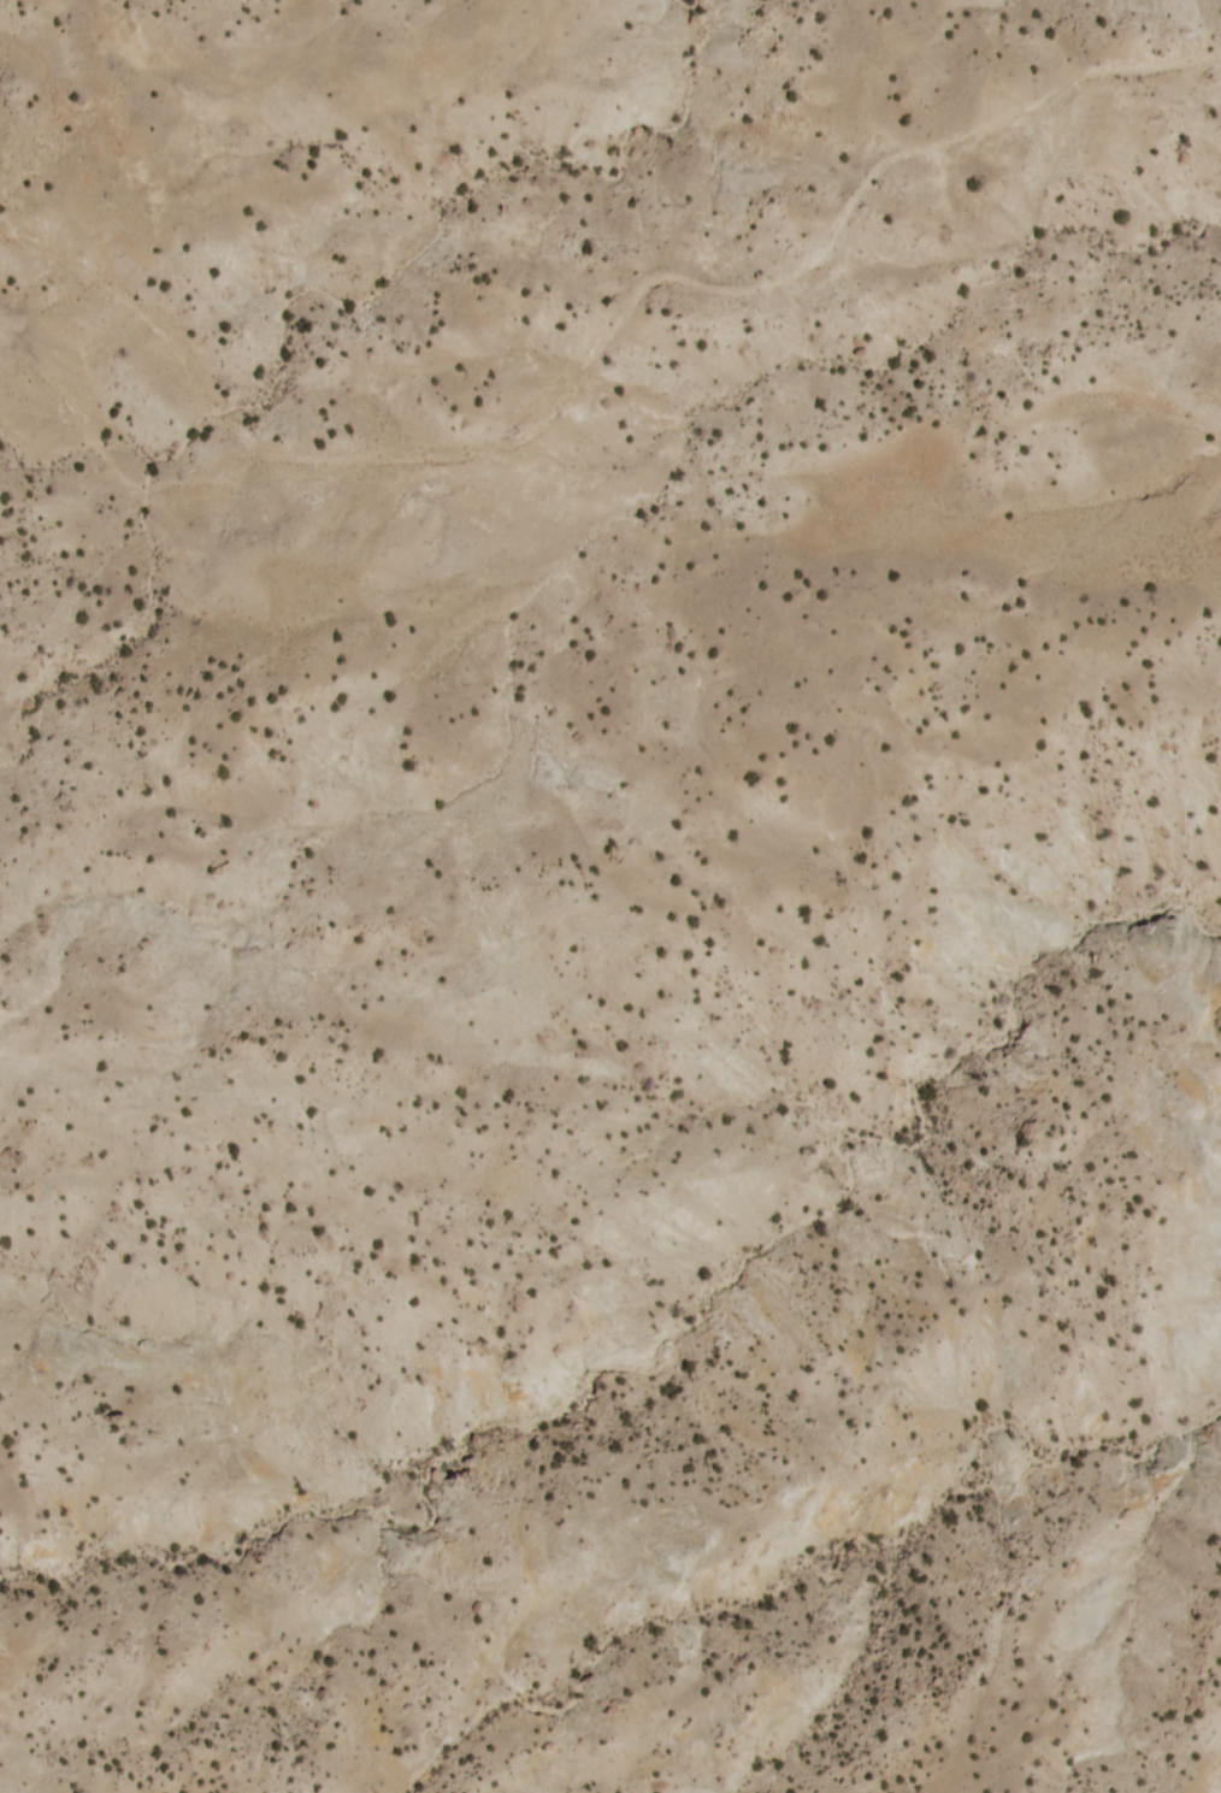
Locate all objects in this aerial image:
road: (609, 359)

